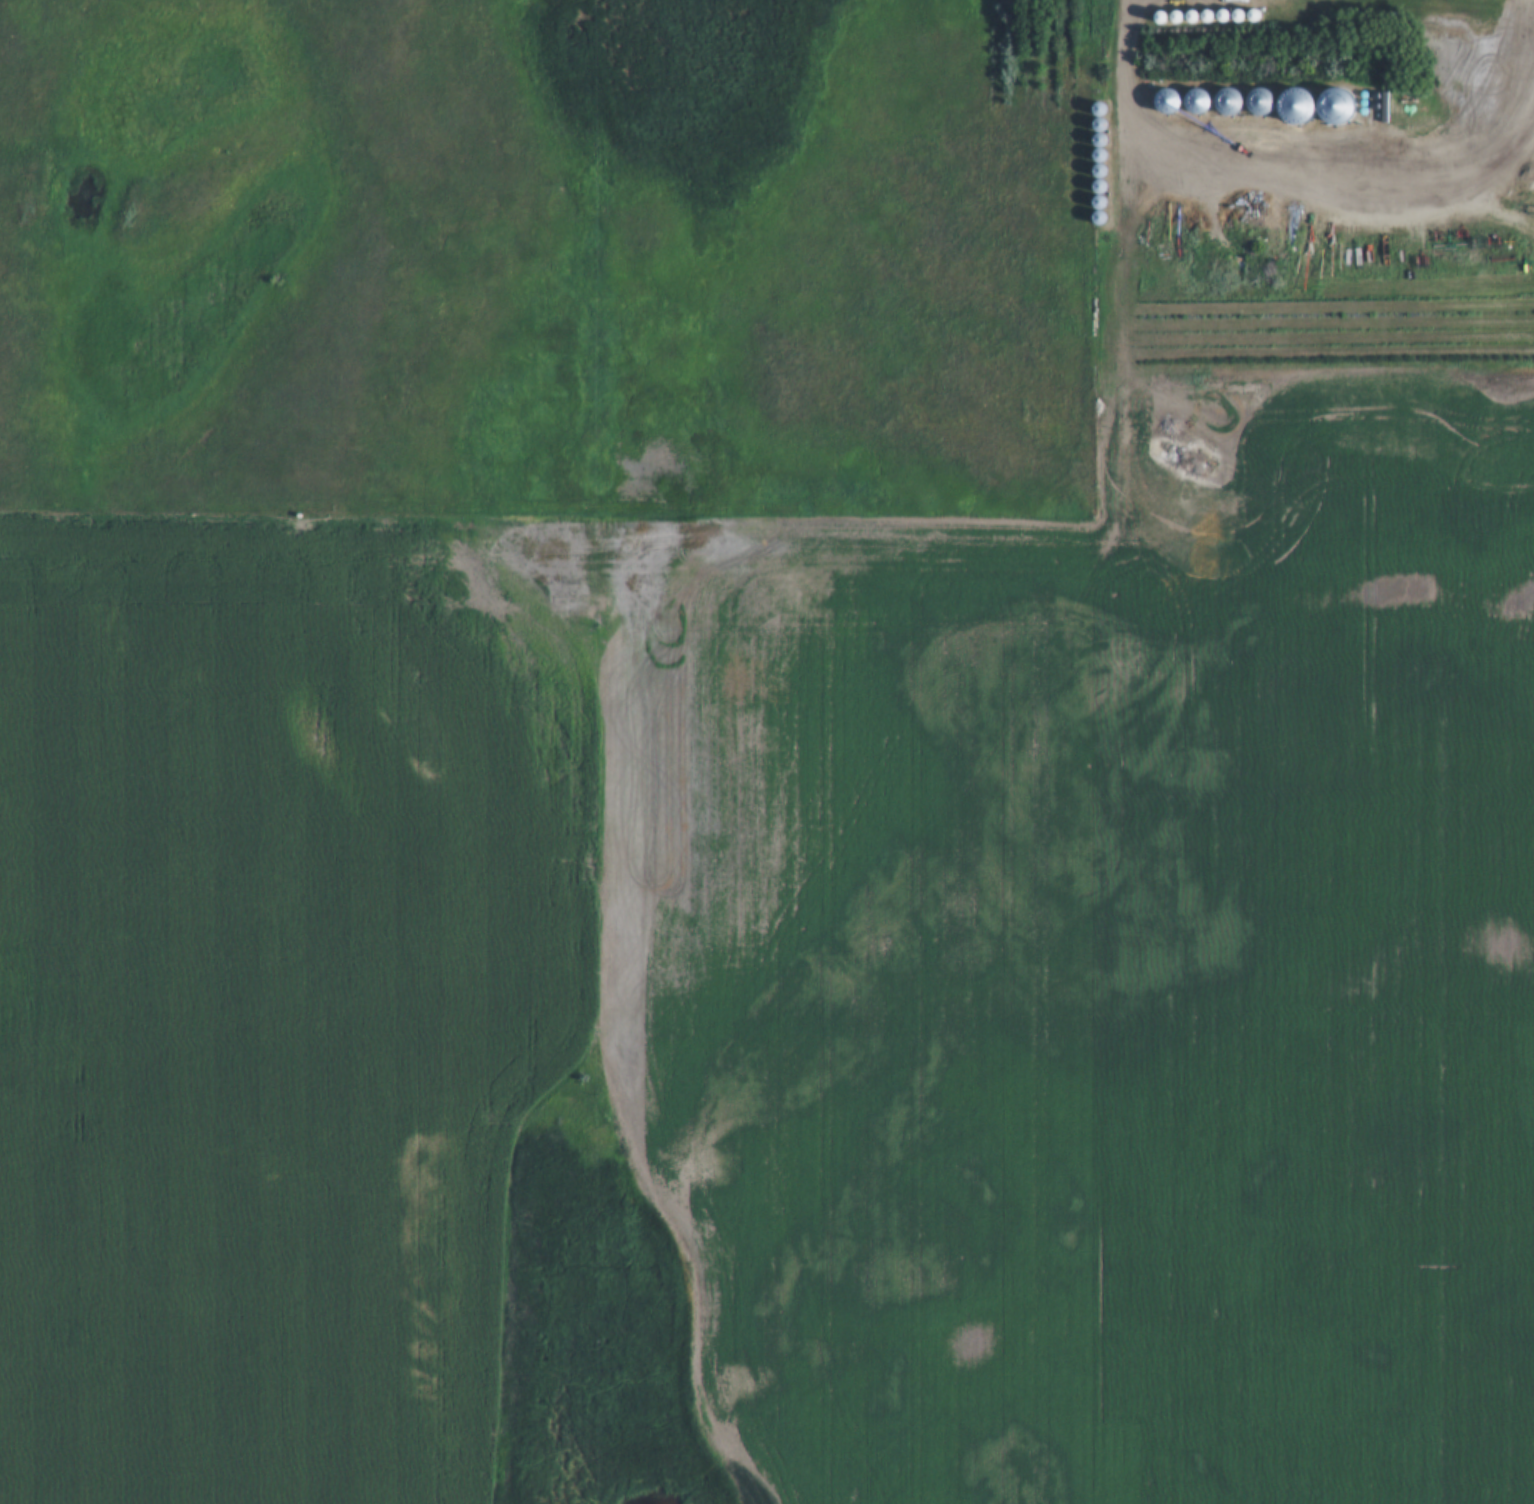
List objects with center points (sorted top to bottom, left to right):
road: (1282, 163)

